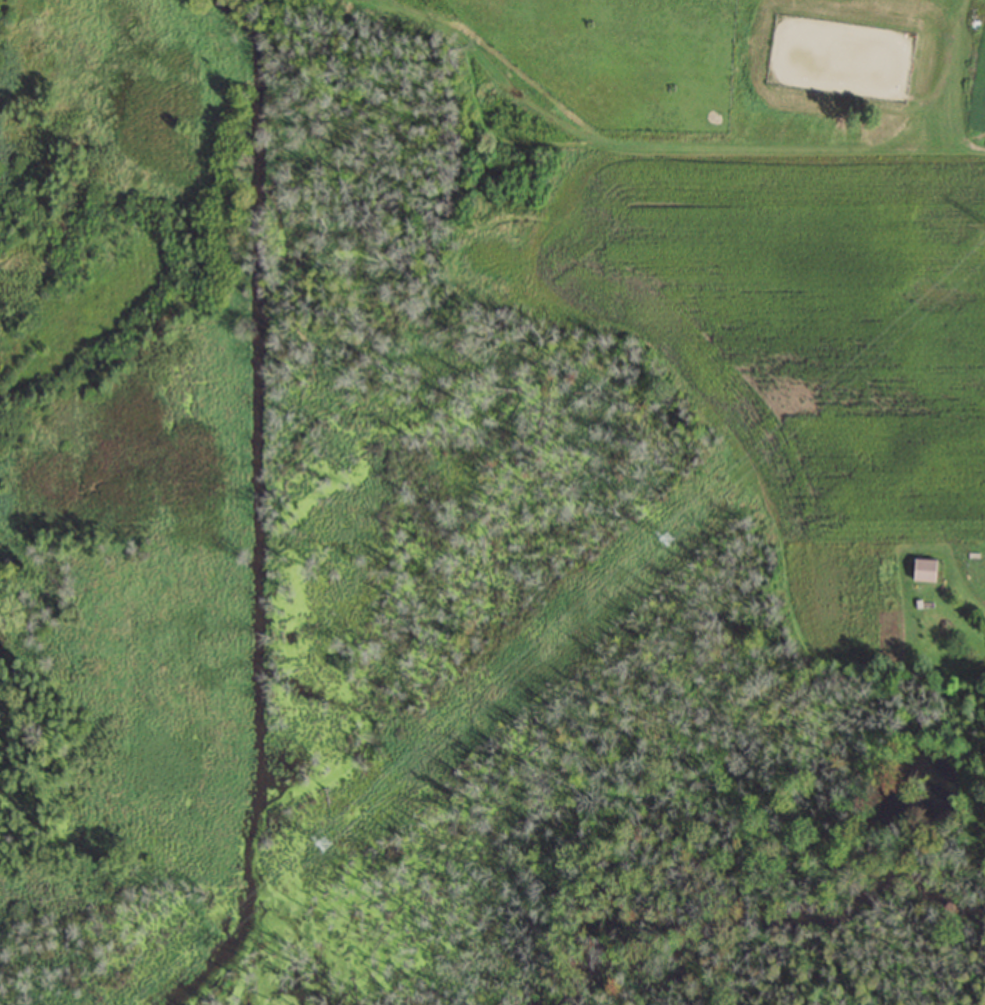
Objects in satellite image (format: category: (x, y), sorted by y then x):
building: (921, 569)

